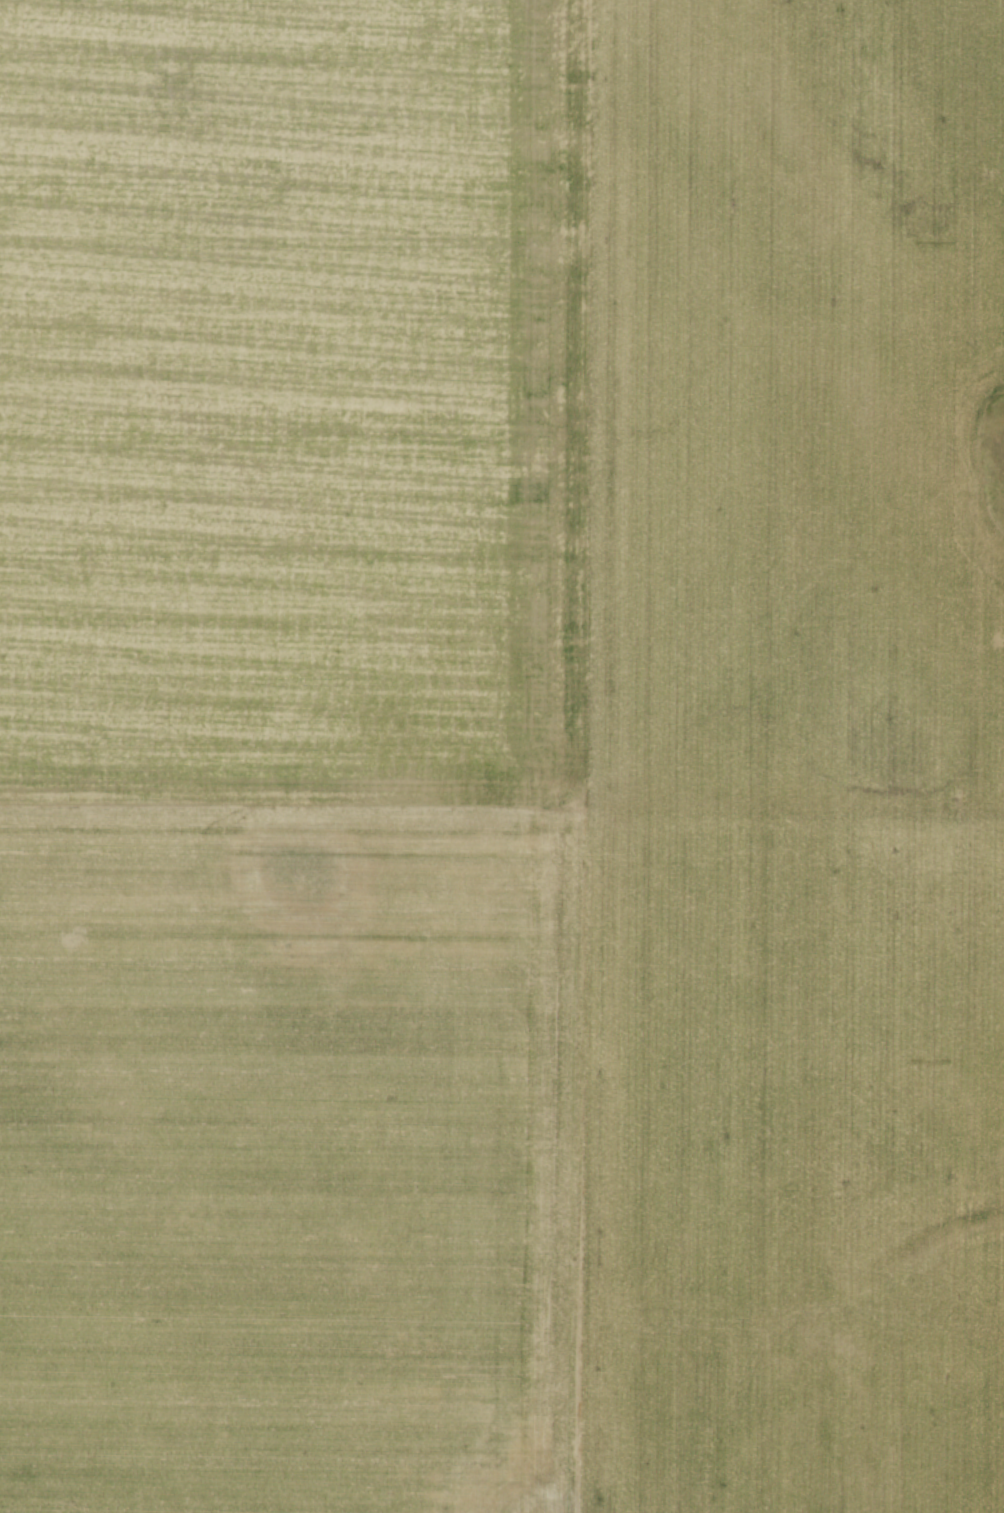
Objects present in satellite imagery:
crop: (502, 756)

